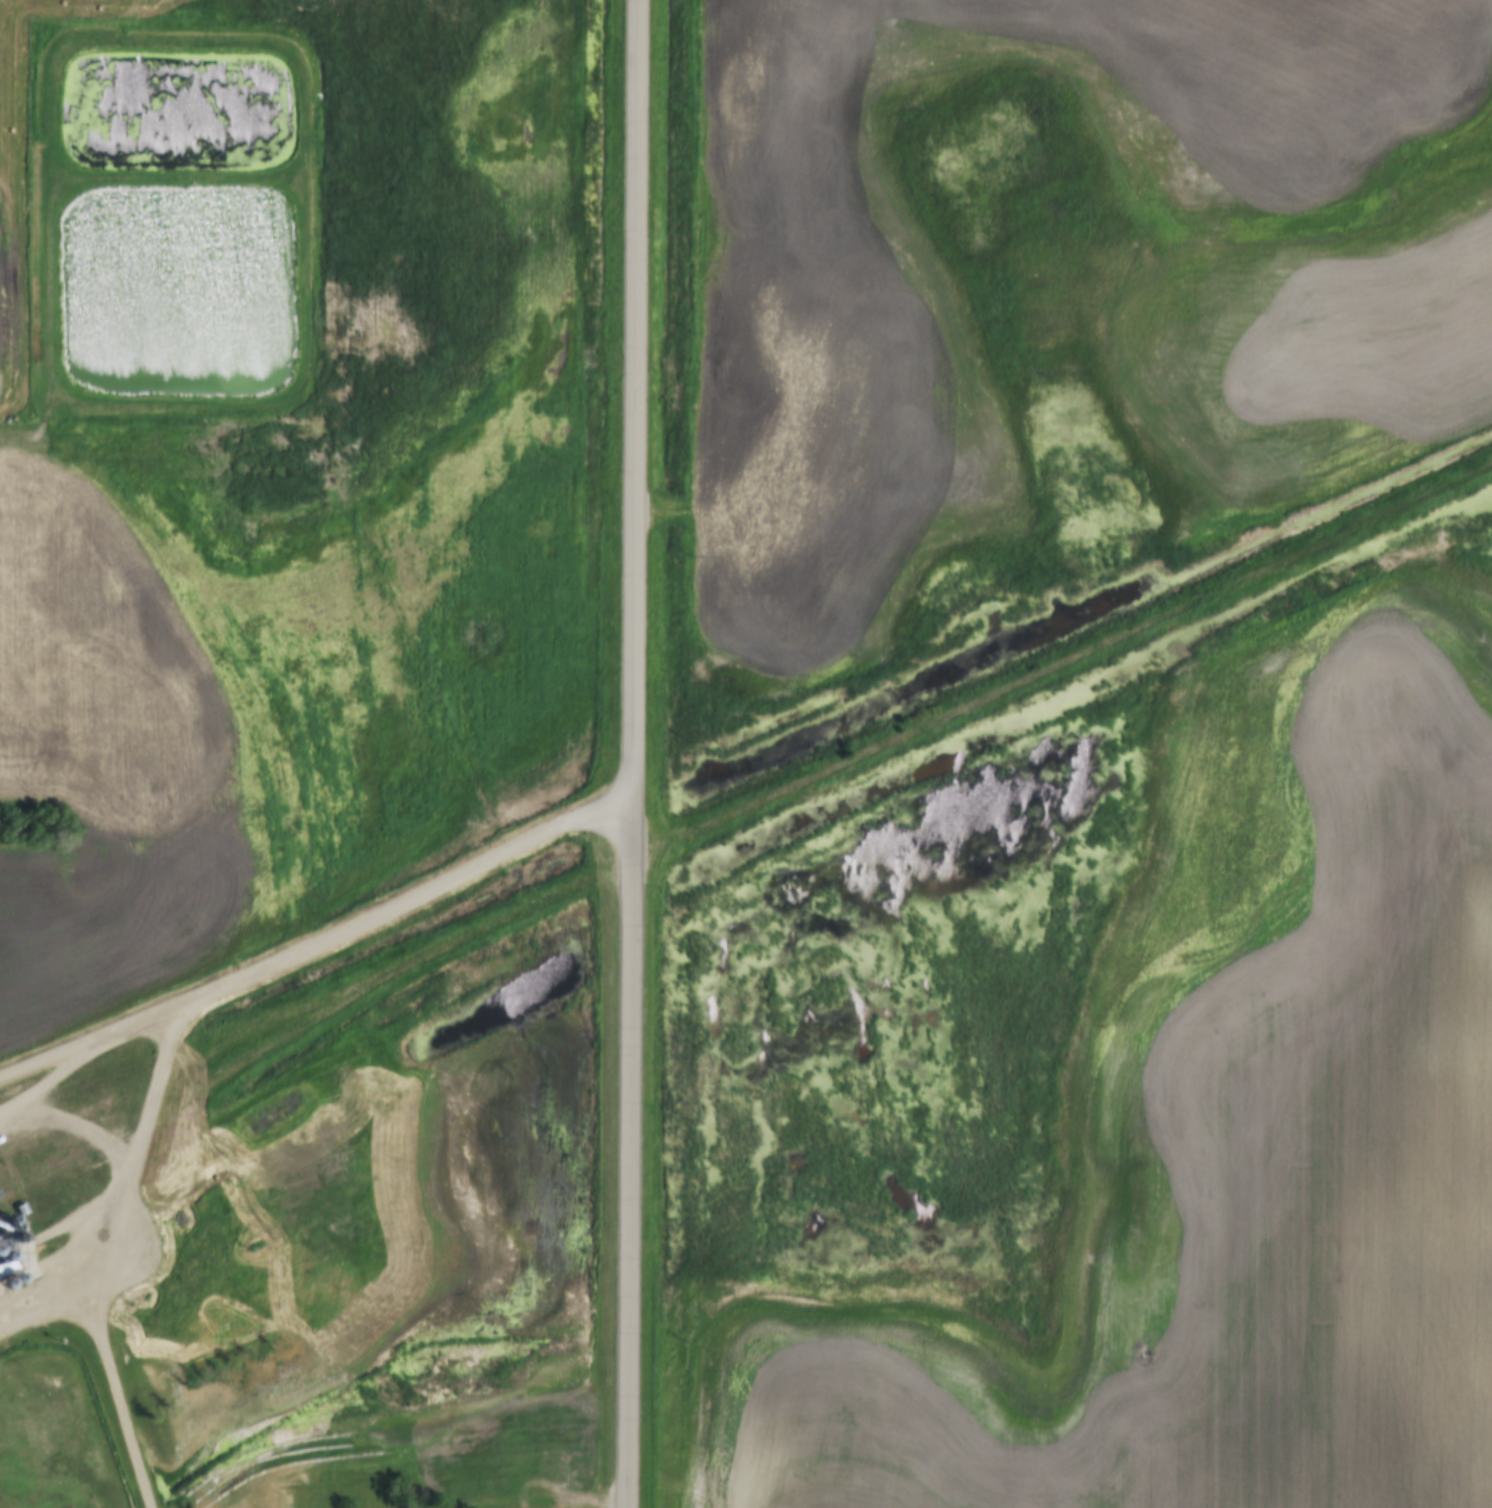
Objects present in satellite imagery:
road: (630, 753)
road: (319, 943)
road: (122, 1164)
building: (0, 1248)
silo: (0, 1248)
building: (3, 1258)
silo: (3, 1258)
building: (12, 1279)
silo: (12, 1279)
building: (2, 1284)
silo: (2, 1284)
road: (43, 1318)
road: (123, 1413)
building: (554, 1468)

